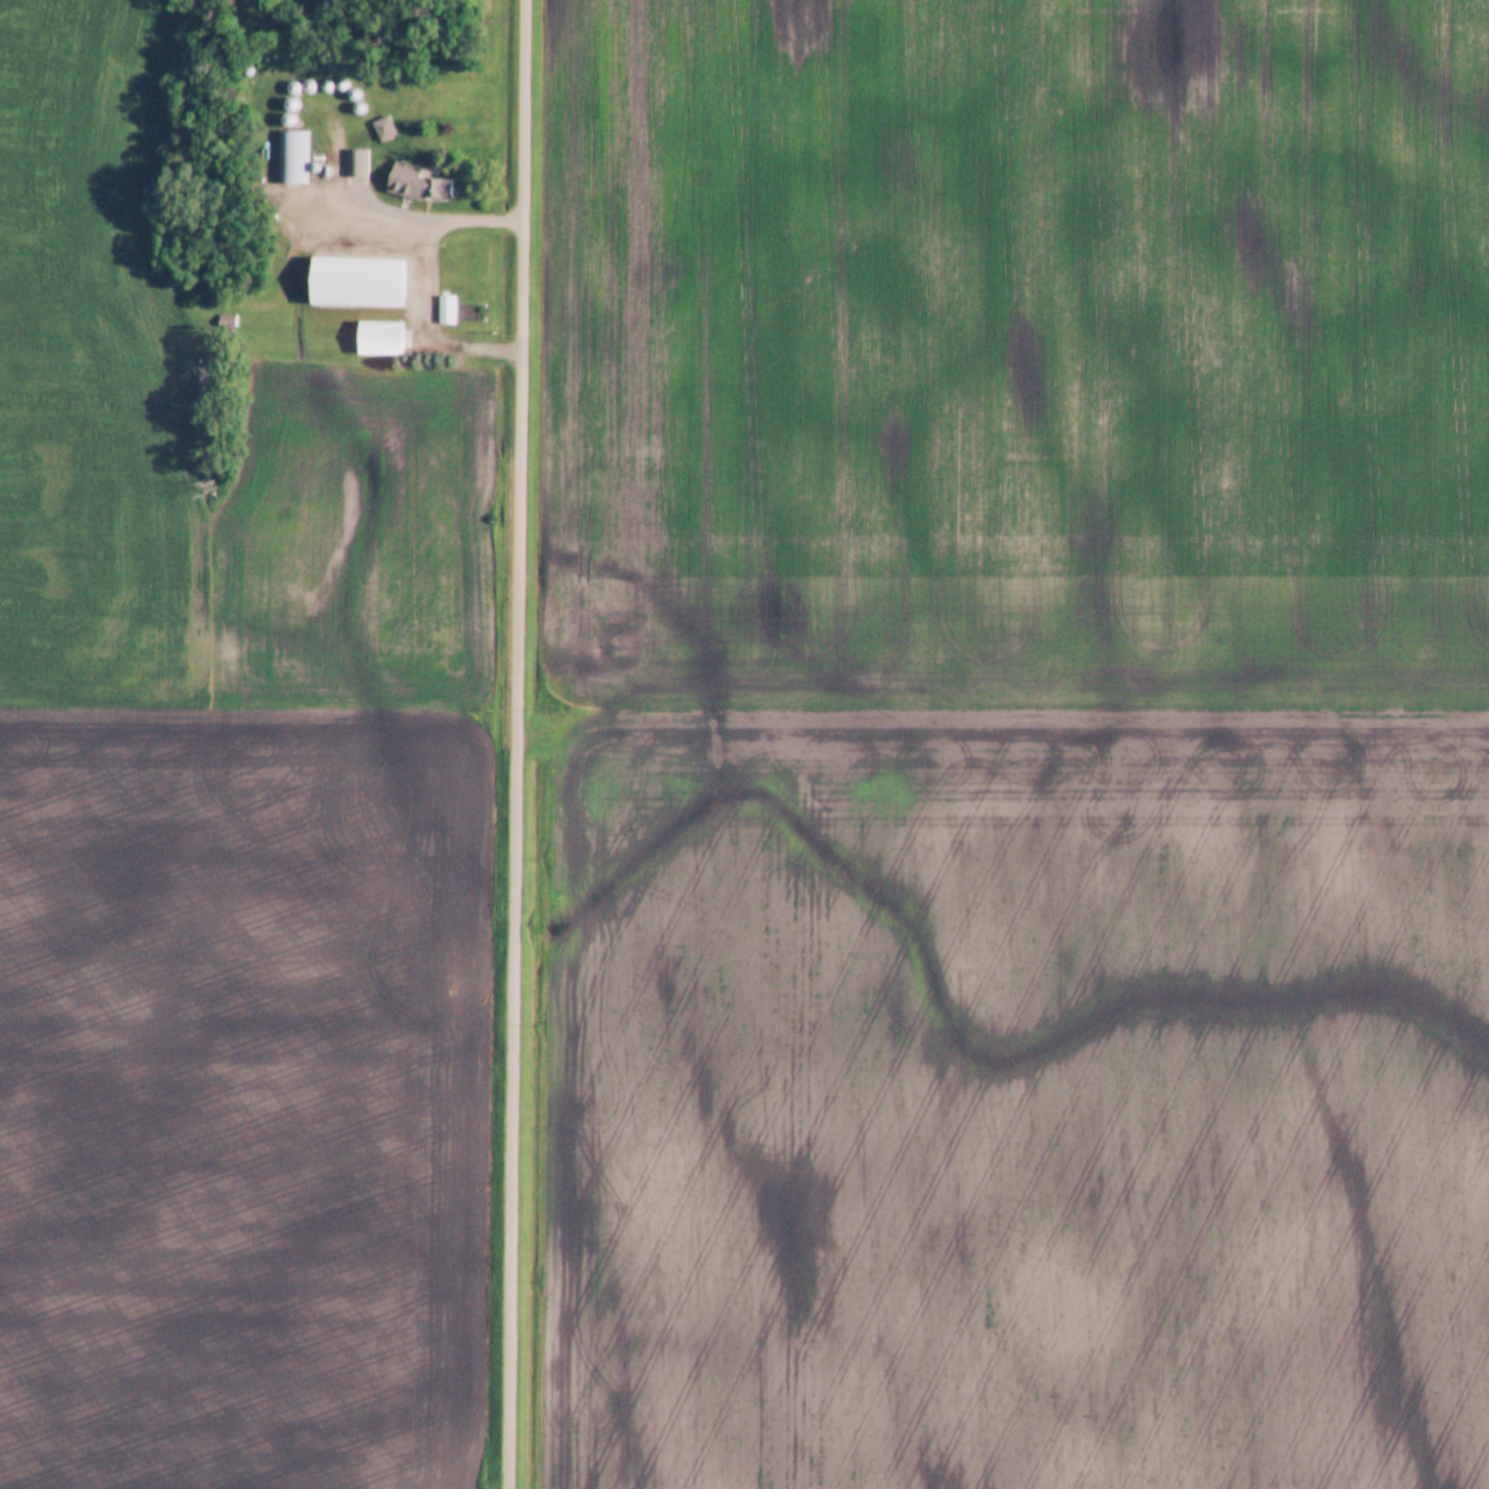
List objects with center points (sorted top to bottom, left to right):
building: (291, 158)
building: (403, 176)
building: (381, 282)
road: (422, 282)
building: (446, 310)
building: (381, 338)
road: (521, 744)

